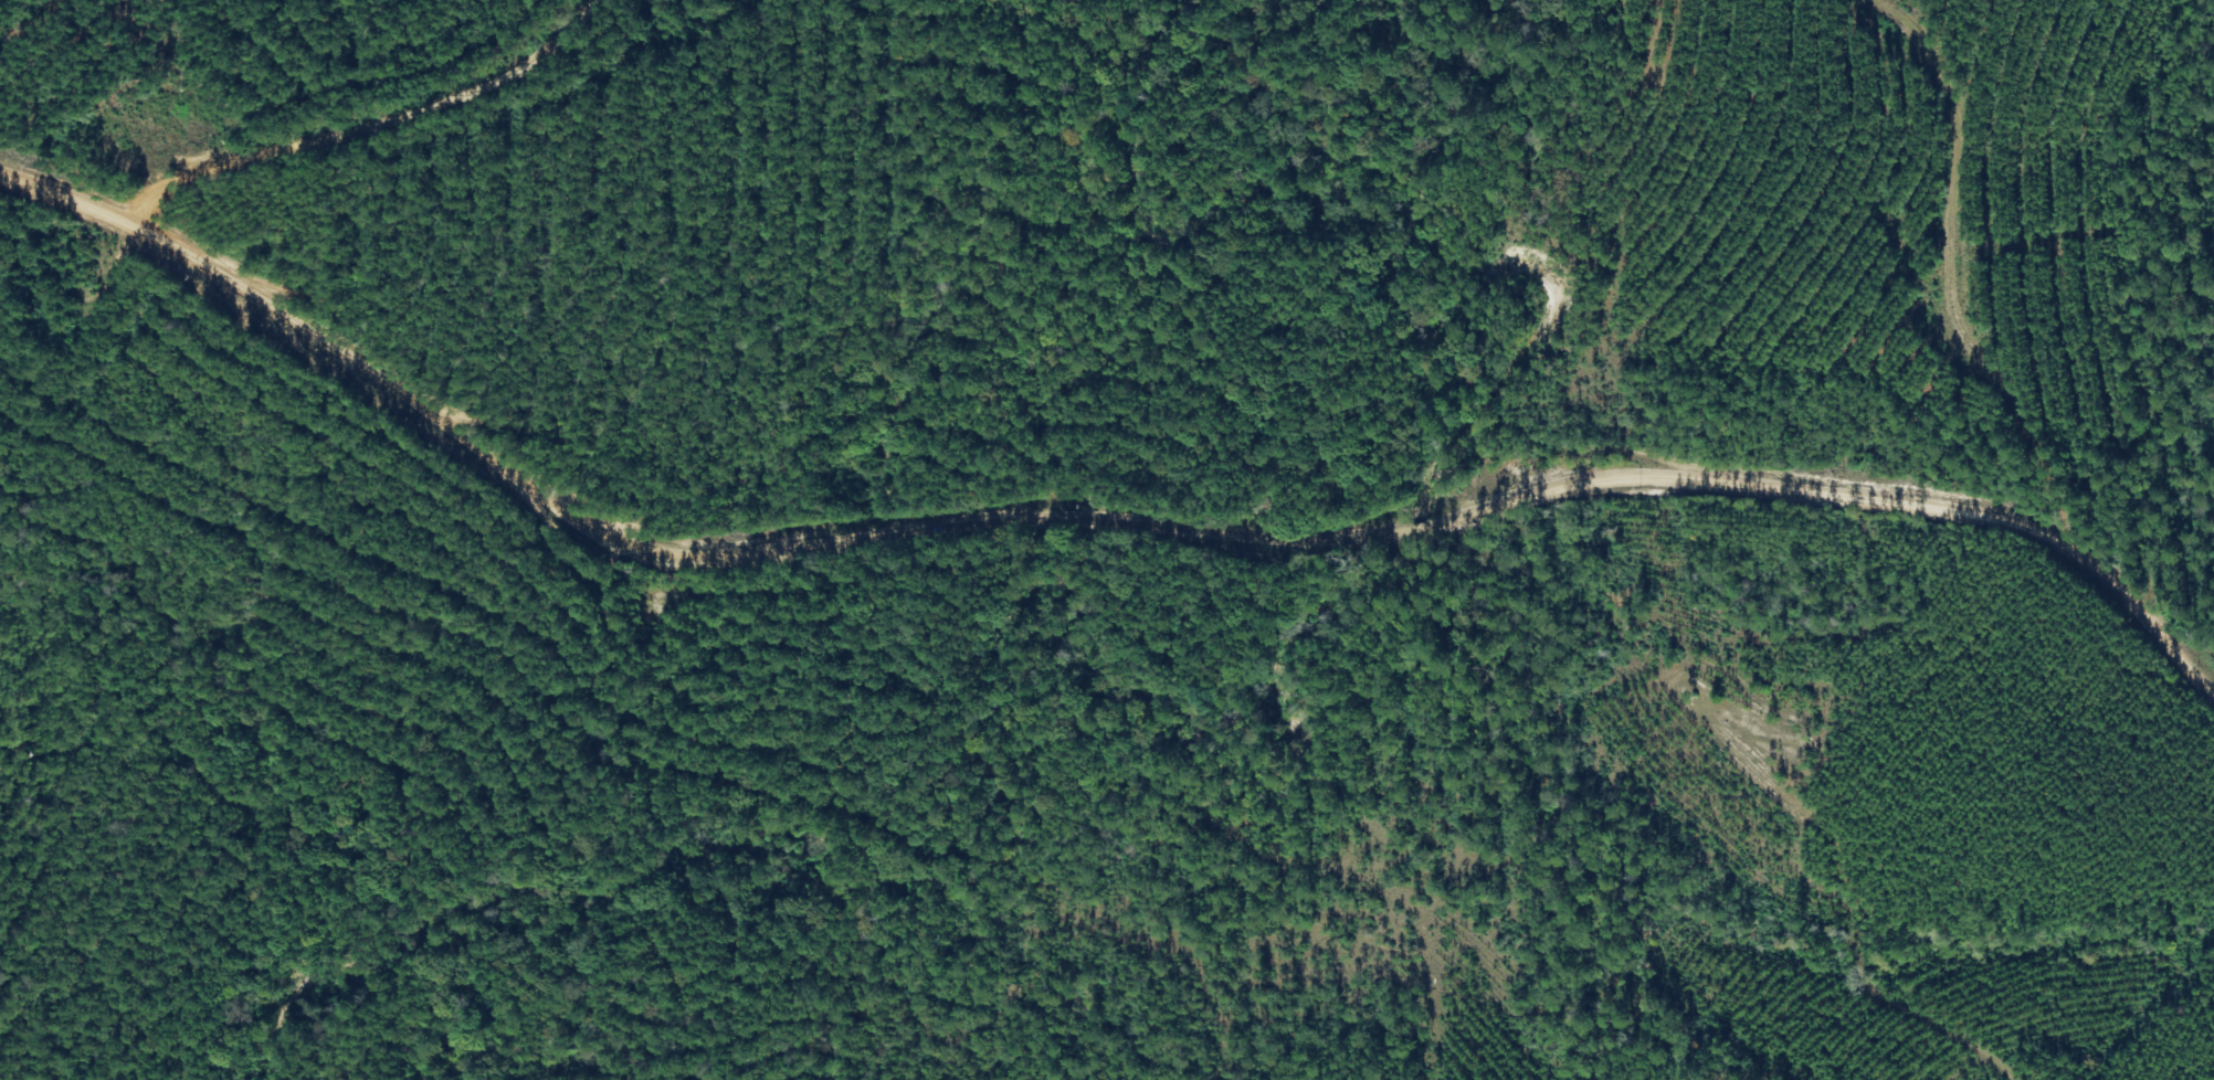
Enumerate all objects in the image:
road: (306, 98)
road: (1089, 509)

